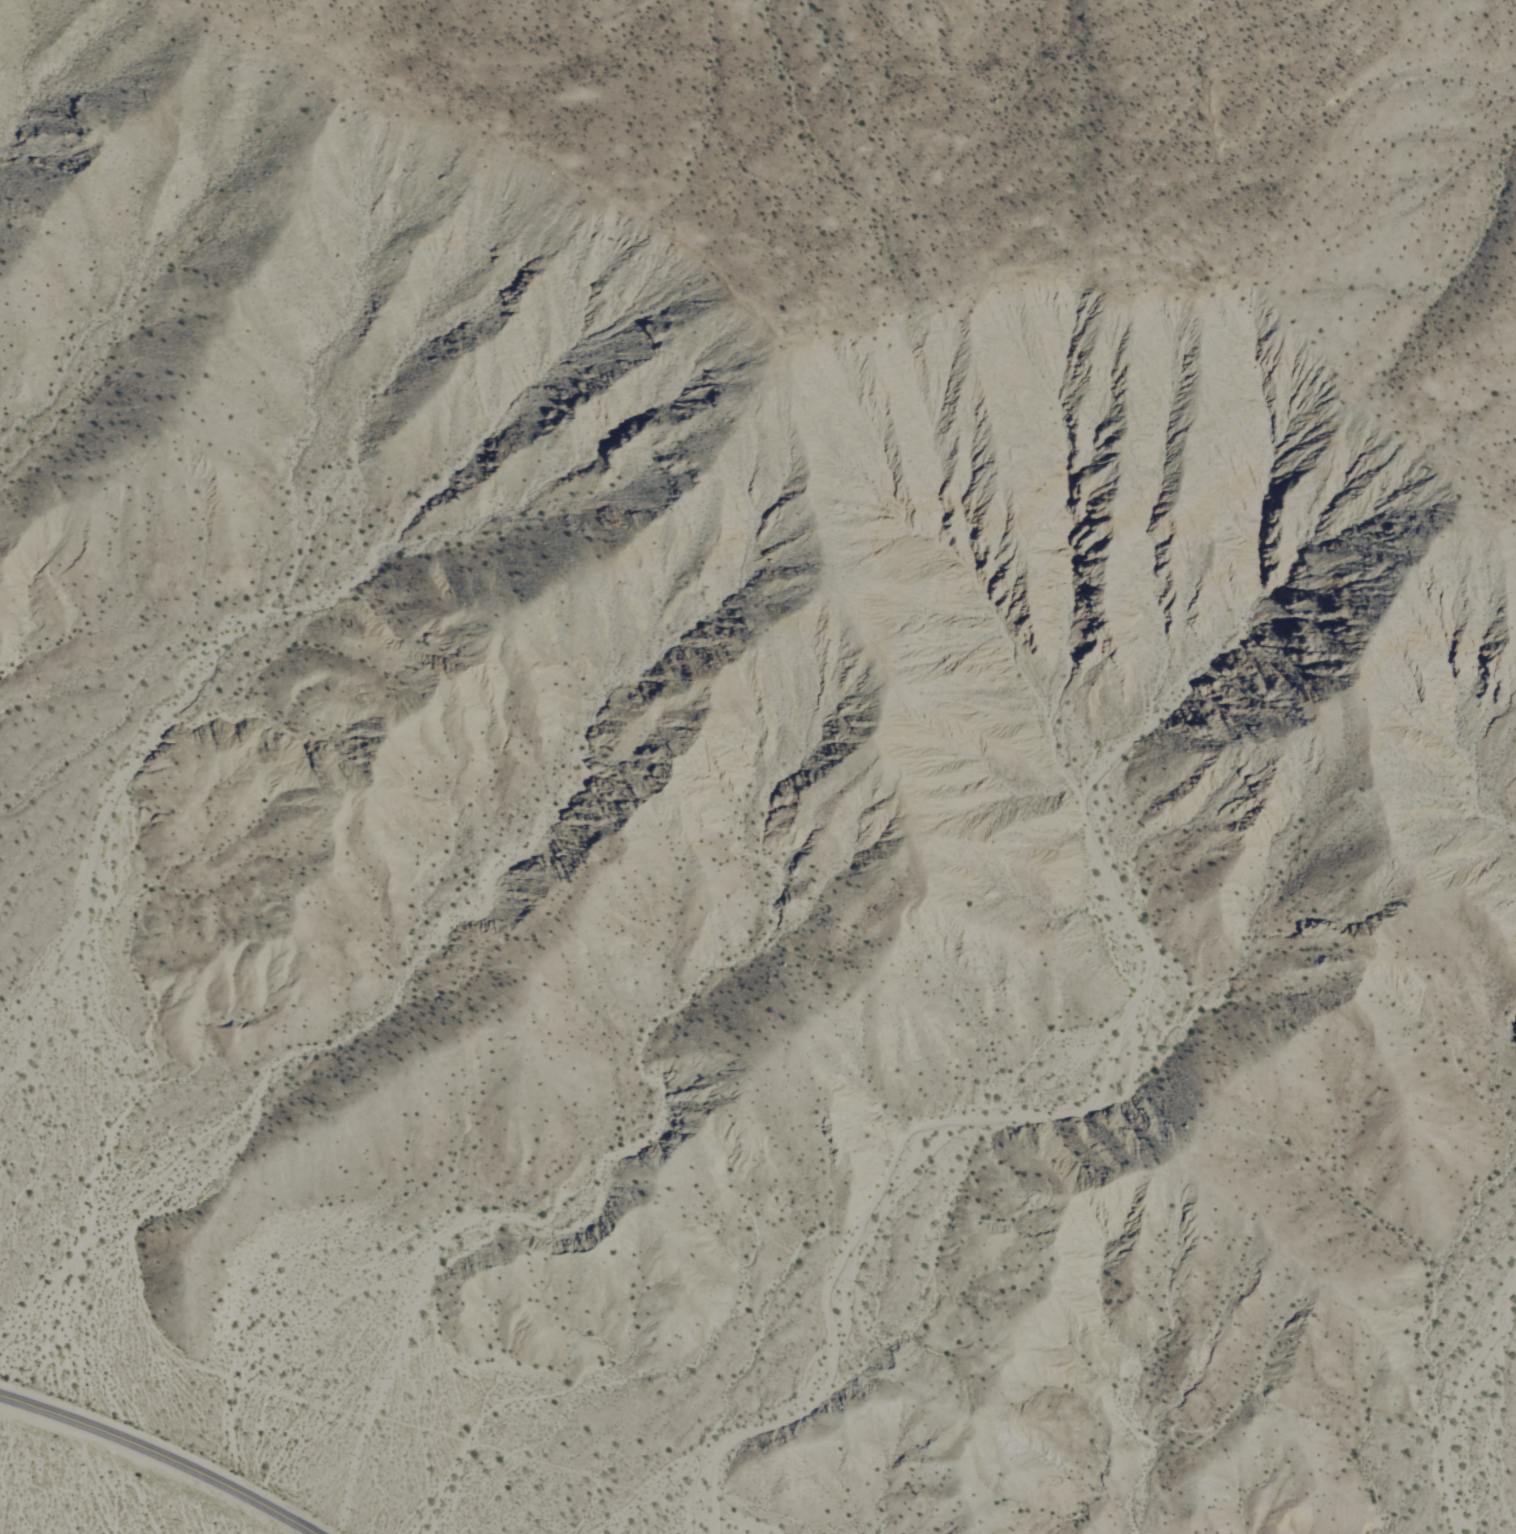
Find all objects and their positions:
road: (138, 1471)

